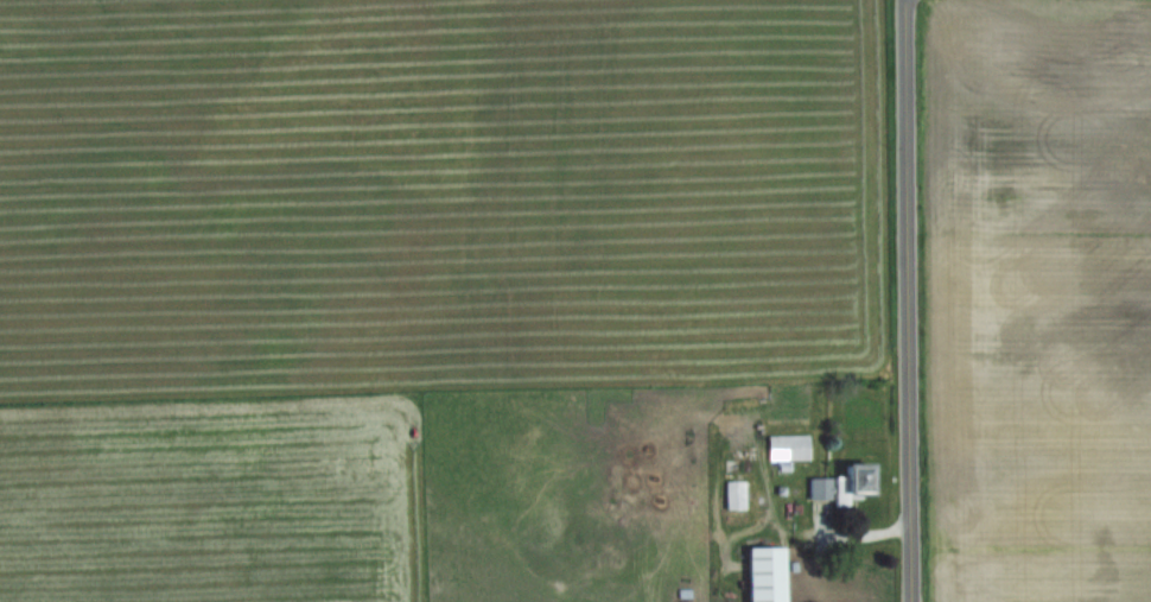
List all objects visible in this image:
road: (909, 300)
building: (788, 446)
building: (840, 483)
building: (735, 494)
building: (763, 574)

